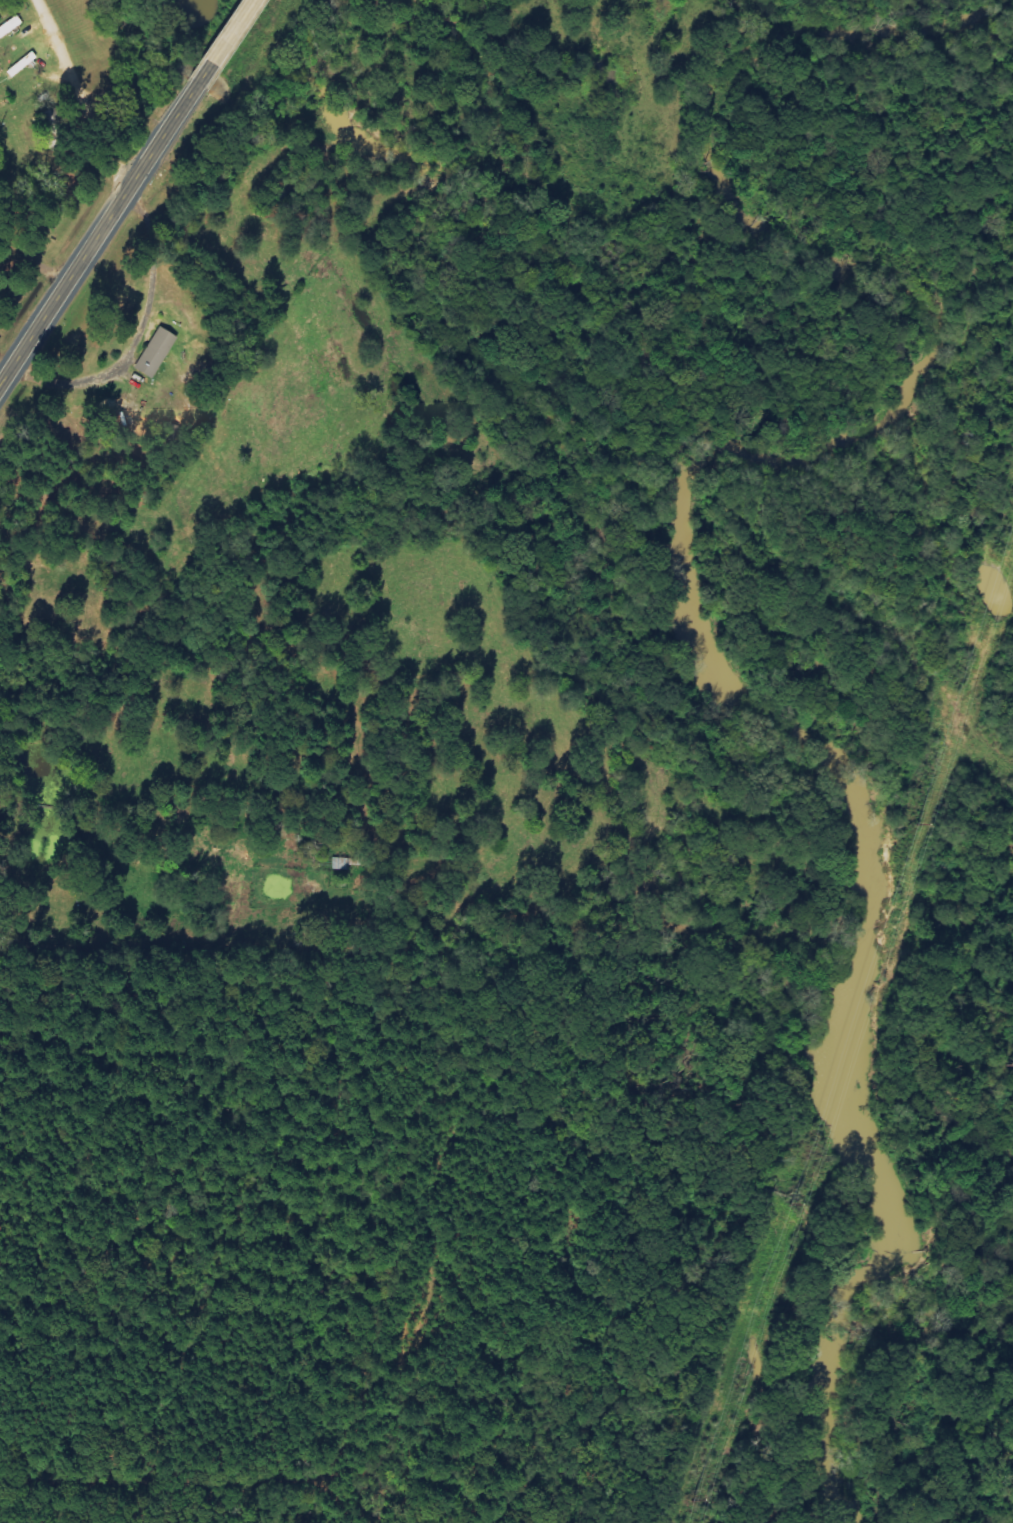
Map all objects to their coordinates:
building: (9, 26)
road: (223, 43)
road: (78, 96)
road: (97, 234)
road: (32, 281)
road: (138, 337)
building: (154, 352)
power tower: (915, 825)
road: (134, 941)
power tower: (796, 1206)
power tower: (695, 1500)

